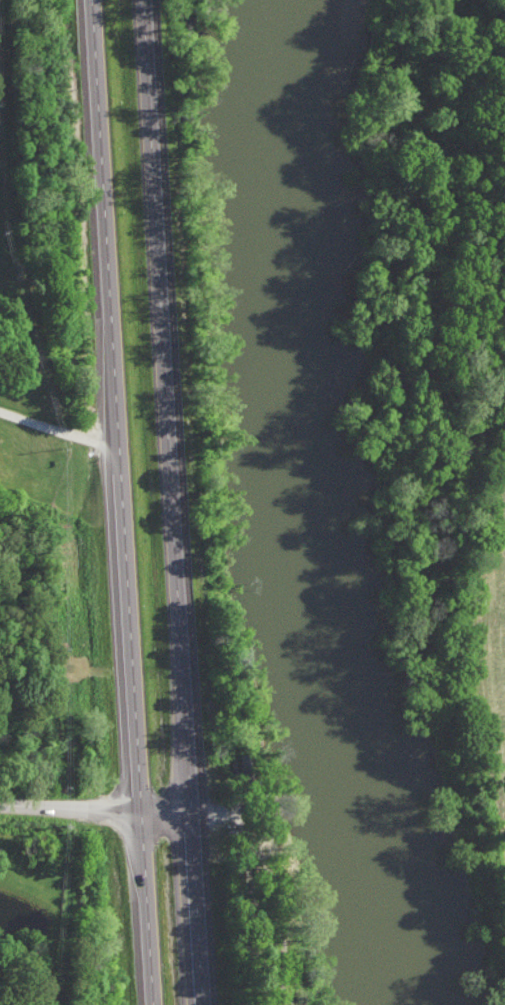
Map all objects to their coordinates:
road: (114, 408)
road: (170, 410)
road: (57, 430)
river: (326, 505)
road: (95, 813)
road: (145, 911)
road: (196, 913)

